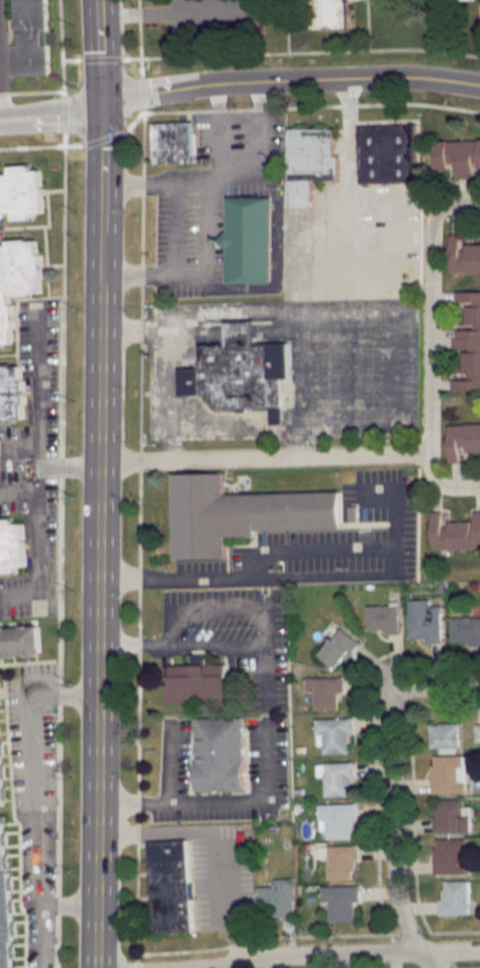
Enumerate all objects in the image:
building: (463, 0)
road: (174, 14)
building: (332, 14)
building: (31, 39)
road: (100, 55)
road: (62, 66)
road: (290, 86)
road: (0, 87)
road: (31, 93)
traffic signals: (102, 111)
road: (51, 118)
road: (218, 134)
road: (104, 138)
building: (176, 142)
road: (40, 147)
building: (388, 155)
building: (458, 157)
building: (310, 164)
road: (154, 181)
building: (24, 192)
road: (206, 208)
road: (460, 209)
road: (101, 223)
road: (178, 228)
building: (249, 240)
building: (464, 256)
building: (21, 269)
building: (6, 321)
road: (345, 325)
road: (428, 334)
building: (468, 343)
building: (244, 373)
building: (11, 395)
road: (100, 401)
road: (38, 423)
building: (463, 440)
road: (21, 448)
road: (264, 463)
road: (428, 473)
road: (20, 492)
road: (455, 492)
building: (239, 513)
road: (39, 532)
building: (455, 532)
building: (12, 548)
road: (61, 550)
road: (315, 550)
road: (304, 576)
road: (98, 581)
road: (22, 597)
road: (215, 609)
building: (384, 619)
building: (424, 622)
building: (465, 631)
building: (20, 642)
road: (210, 645)
building: (340, 648)
building: (198, 683)
road: (439, 691)
building: (325, 692)
building: (477, 733)
building: (335, 735)
building: (444, 737)
building: (219, 754)
road: (170, 765)
building: (449, 774)
building: (1, 779)
building: (338, 779)
road: (34, 799)
road: (220, 802)
building: (451, 817)
building: (338, 821)
road: (97, 832)
road: (391, 834)
road: (212, 848)
building: (449, 857)
building: (340, 861)
building: (170, 887)
building: (453, 898)
building: (278, 899)
building: (341, 902)
building: (5, 905)
road: (66, 908)
road: (355, 960)

